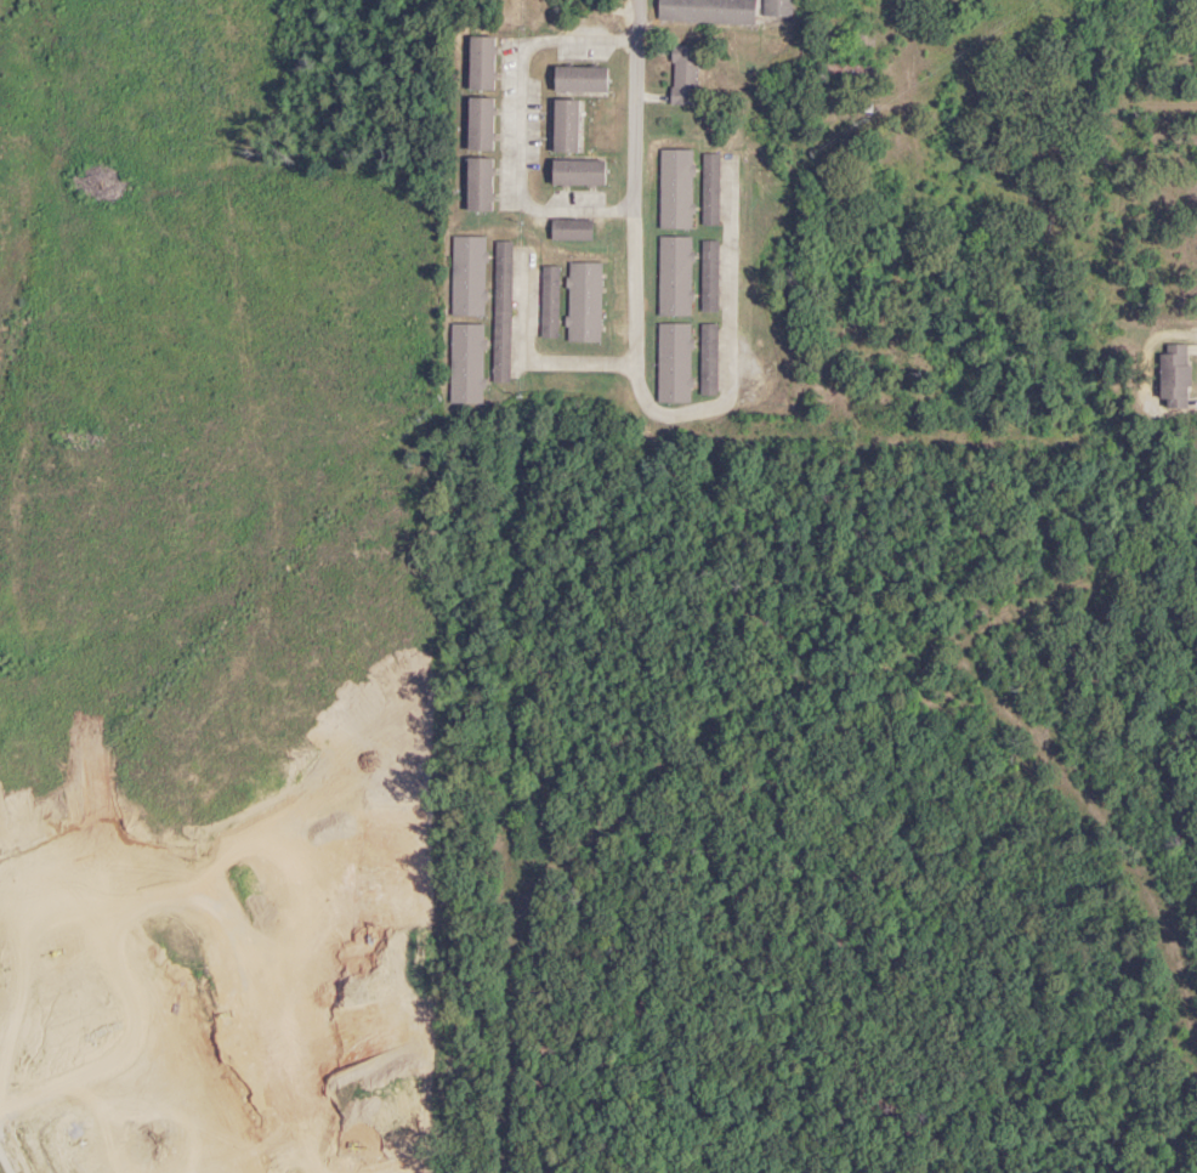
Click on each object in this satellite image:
building: (777, 7)
building: (705, 11)
road: (642, 23)
road: (522, 61)
building: (480, 63)
building: (683, 75)
building: (579, 79)
road: (908, 81)
building: (480, 124)
building: (565, 126)
building: (577, 174)
building: (478, 185)
building: (675, 189)
building: (709, 189)
building: (571, 229)
building: (467, 276)
building: (674, 276)
building: (709, 276)
building: (549, 301)
building: (501, 302)
building: (583, 302)
building: (708, 361)
road: (529, 362)
building: (673, 363)
building: (465, 364)
building: (1173, 375)
road: (639, 390)

